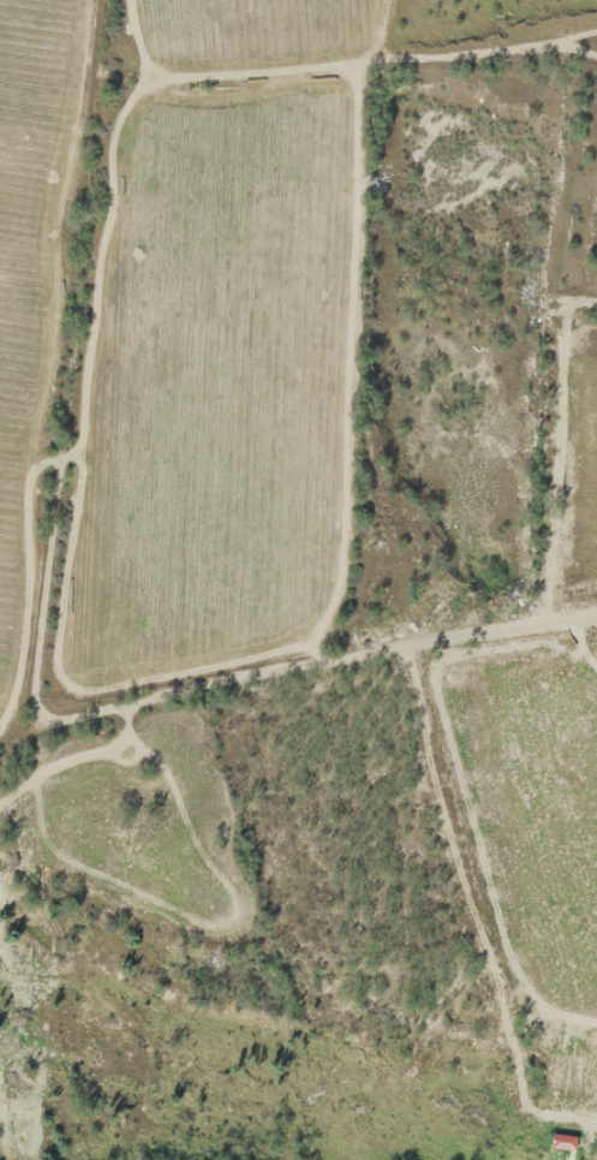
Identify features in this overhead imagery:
road: (118, 20)
road: (316, 20)
road: (358, 41)
road: (70, 387)
road: (575, 392)
road: (317, 673)
road: (19, 748)

